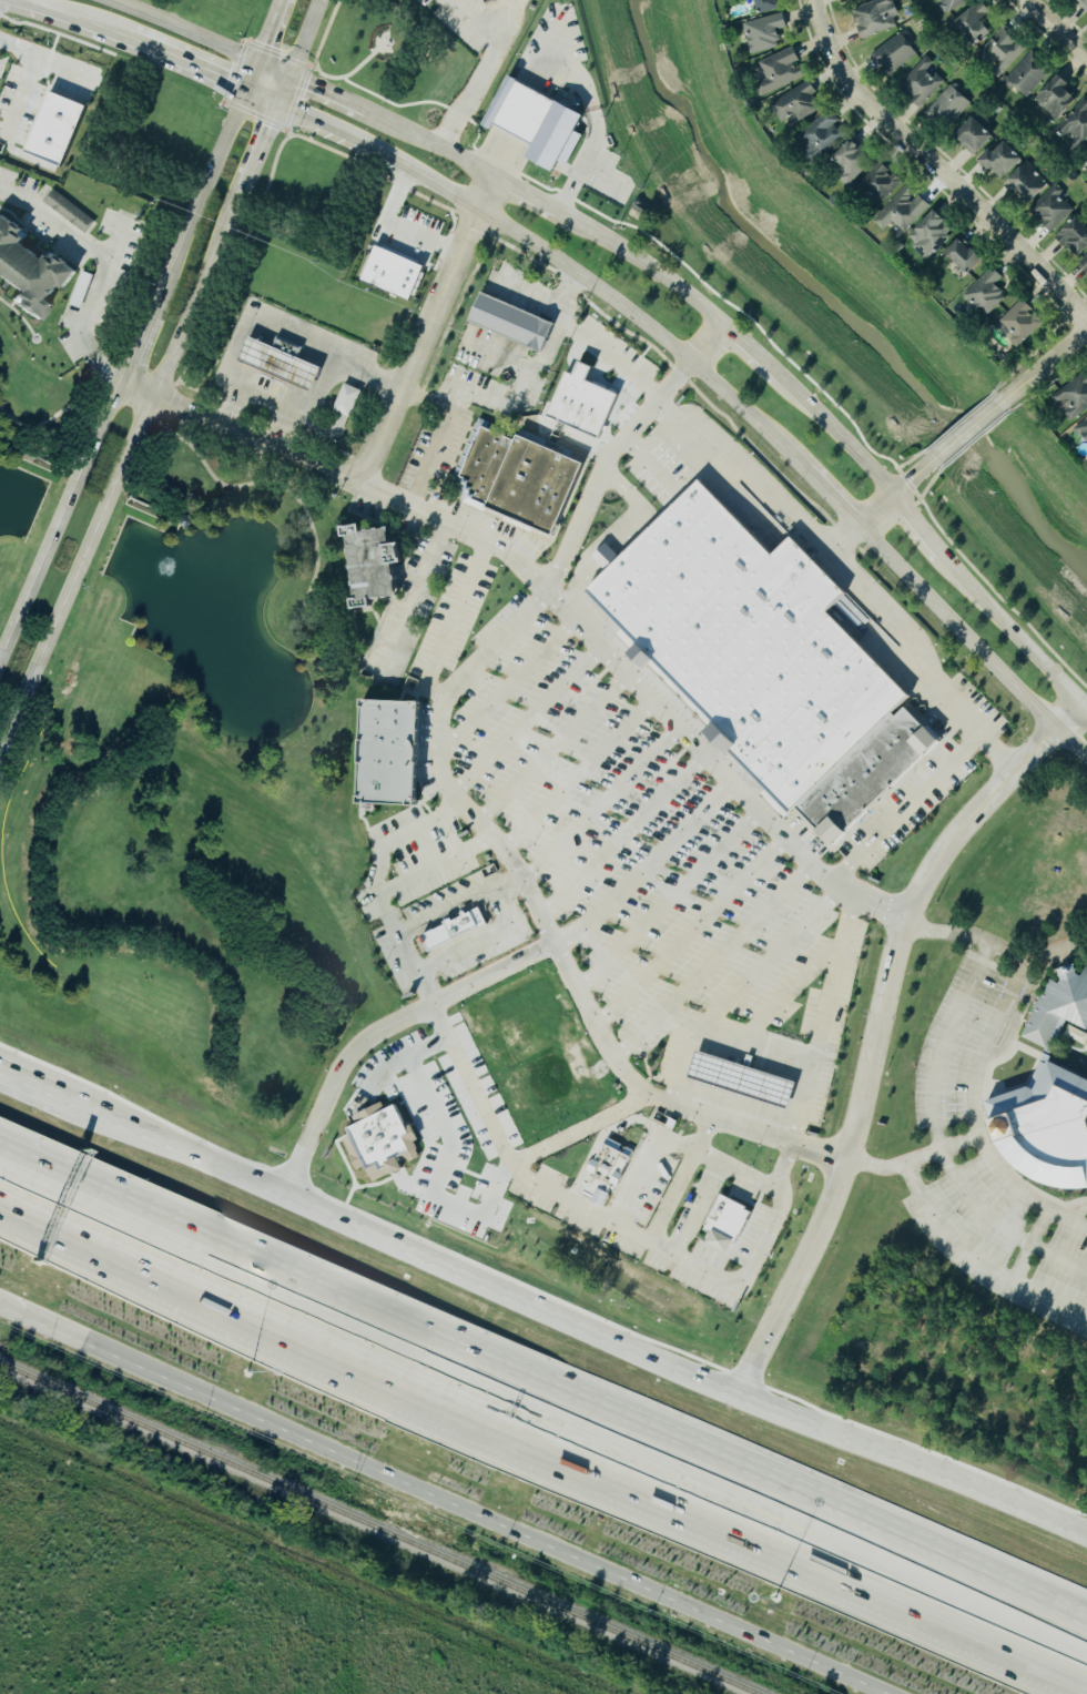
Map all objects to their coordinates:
building: (486, 0)
building: (490, 0)
building: (954, 3)
building: (1083, 3)
building: (768, 6)
building: (877, 16)
road: (47, 17)
building: (975, 23)
road: (1055, 29)
road: (266, 31)
building: (765, 31)
road: (197, 38)
road: (131, 47)
building: (1003, 51)
road: (296, 53)
building: (895, 53)
traffic signals: (256, 62)
building: (781, 70)
road: (473, 73)
building: (1029, 74)
traffic signals: (288, 77)
road: (206, 78)
building: (922, 81)
road: (23, 84)
traffic signals: (245, 93)
road: (325, 94)
building: (1057, 98)
building: (798, 103)
building: (949, 106)
traffic signals: (276, 108)
road: (576, 118)
building: (539, 123)
building: (1076, 128)
building: (54, 129)
building: (822, 135)
building: (975, 135)
road: (429, 144)
road: (260, 146)
building: (1003, 161)
road: (935, 169)
building: (1029, 183)
road: (204, 190)
road: (489, 193)
road: (528, 194)
building: (1053, 207)
building: (903, 210)
building: (69, 211)
road: (395, 227)
building: (932, 234)
building: (1076, 236)
road: (546, 251)
building: (965, 256)
building: (1084, 261)
road: (106, 264)
road: (642, 264)
building: (29, 271)
building: (393, 273)
road: (565, 288)
building: (986, 292)
building: (510, 321)
building: (1022, 322)
road: (283, 334)
road: (580, 334)
road: (705, 342)
road: (750, 348)
road: (134, 351)
building: (276, 365)
road: (529, 367)
road: (1045, 367)
building: (1074, 397)
building: (346, 399)
road: (294, 400)
road: (492, 402)
building: (579, 402)
building: (1083, 428)
road: (968, 432)
road: (837, 435)
road: (439, 439)
road: (372, 463)
road: (603, 465)
road: (122, 469)
road: (916, 478)
building: (517, 479)
road: (833, 499)
road: (878, 511)
road: (423, 518)
road: (921, 523)
road: (60, 524)
road: (844, 541)
building: (608, 556)
building: (374, 562)
fountain: (166, 566)
road: (842, 569)
road: (410, 603)
road: (447, 621)
road: (1012, 626)
road: (972, 640)
building: (748, 645)
road: (507, 688)
road: (1083, 707)
road: (527, 721)
road: (551, 749)
building: (390, 751)
road: (700, 753)
building: (867, 773)
road: (577, 777)
road: (600, 807)
road: (903, 809)
road: (621, 838)
road: (435, 863)
road: (379, 884)
building: (597, 889)
road: (668, 902)
road: (448, 907)
road: (540, 920)
building: (453, 929)
road: (690, 933)
road: (496, 935)
road: (995, 947)
road: (712, 964)
road: (768, 964)
road: (481, 975)
road: (789, 995)
road: (508, 1006)
building: (1059, 1007)
road: (822, 1020)
road: (876, 1032)
building: (1077, 1034)
road: (721, 1038)
building: (741, 1079)
gas station: (741, 1079)
road: (28, 1092)
road: (67, 1108)
road: (934, 1109)
road: (974, 1118)
building: (1048, 1126)
road: (580, 1130)
building: (380, 1140)
road: (679, 1144)
road: (444, 1155)
road: (911, 1160)
building: (603, 1174)
road: (755, 1179)
road: (639, 1180)
road: (558, 1194)
road: (692, 1207)
building: (724, 1223)
road: (947, 1233)
road: (1044, 1249)
road: (1022, 1262)
road: (738, 1277)
road: (1049, 1300)
road: (14, 1301)
road: (580, 1329)
road: (545, 1377)
road: (543, 1434)
road: (471, 1500)
railway: (377, 1529)

